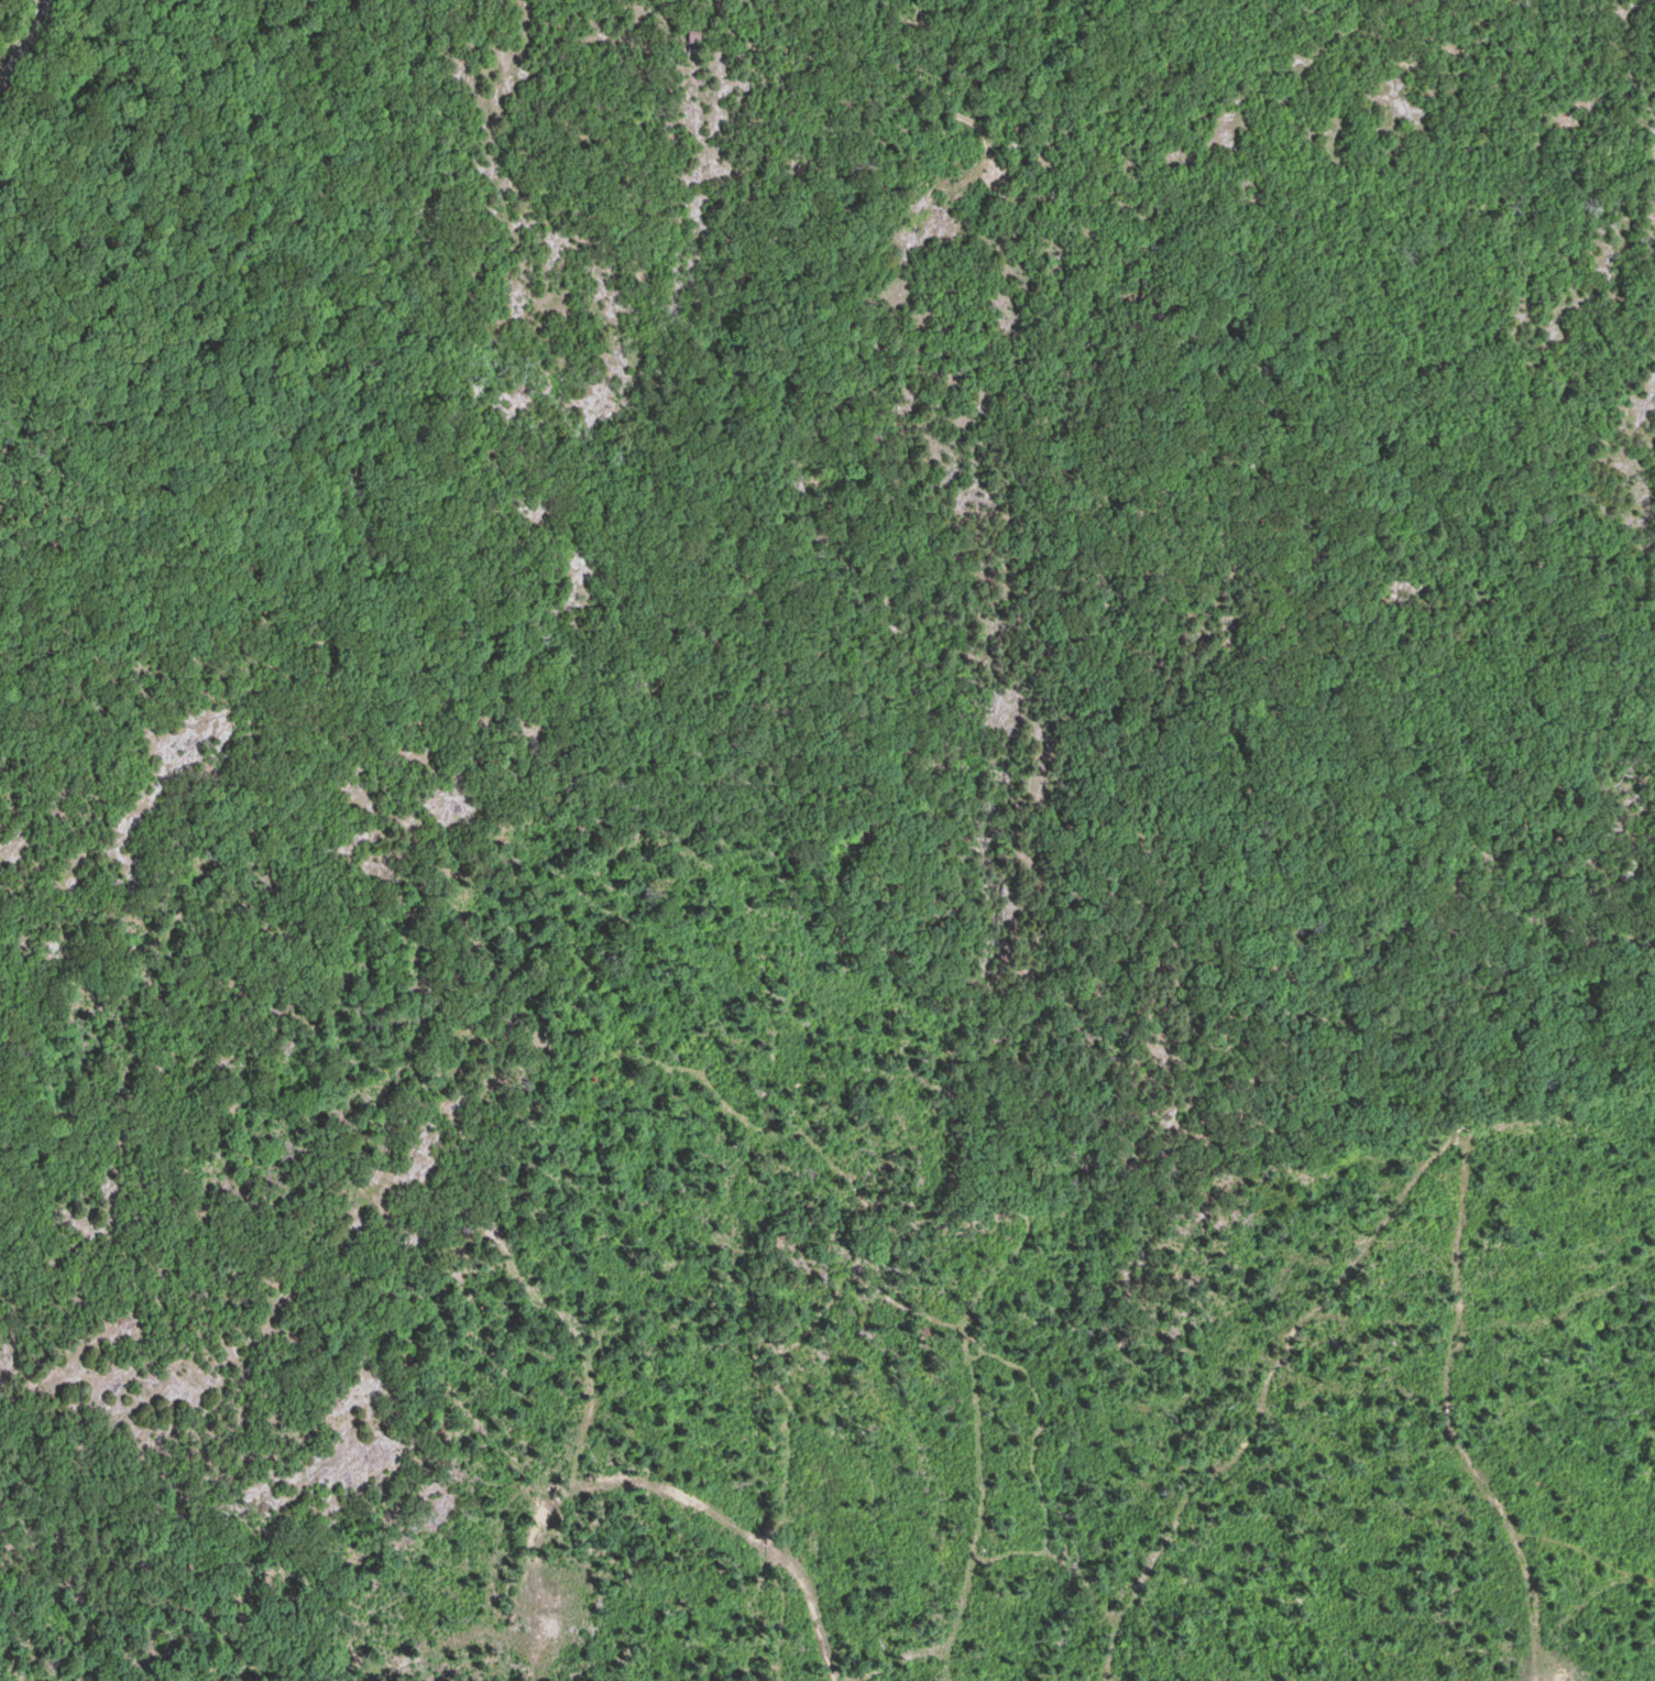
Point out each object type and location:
road: (20, 35)
building: (691, 36)

